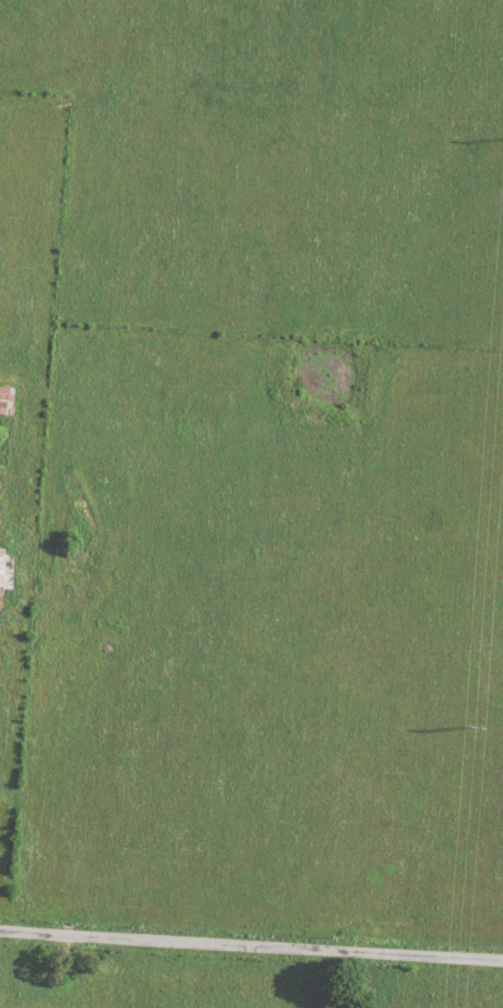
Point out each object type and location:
building: (6, 400)
building: (5, 572)
power tower: (468, 724)
road: (251, 944)

